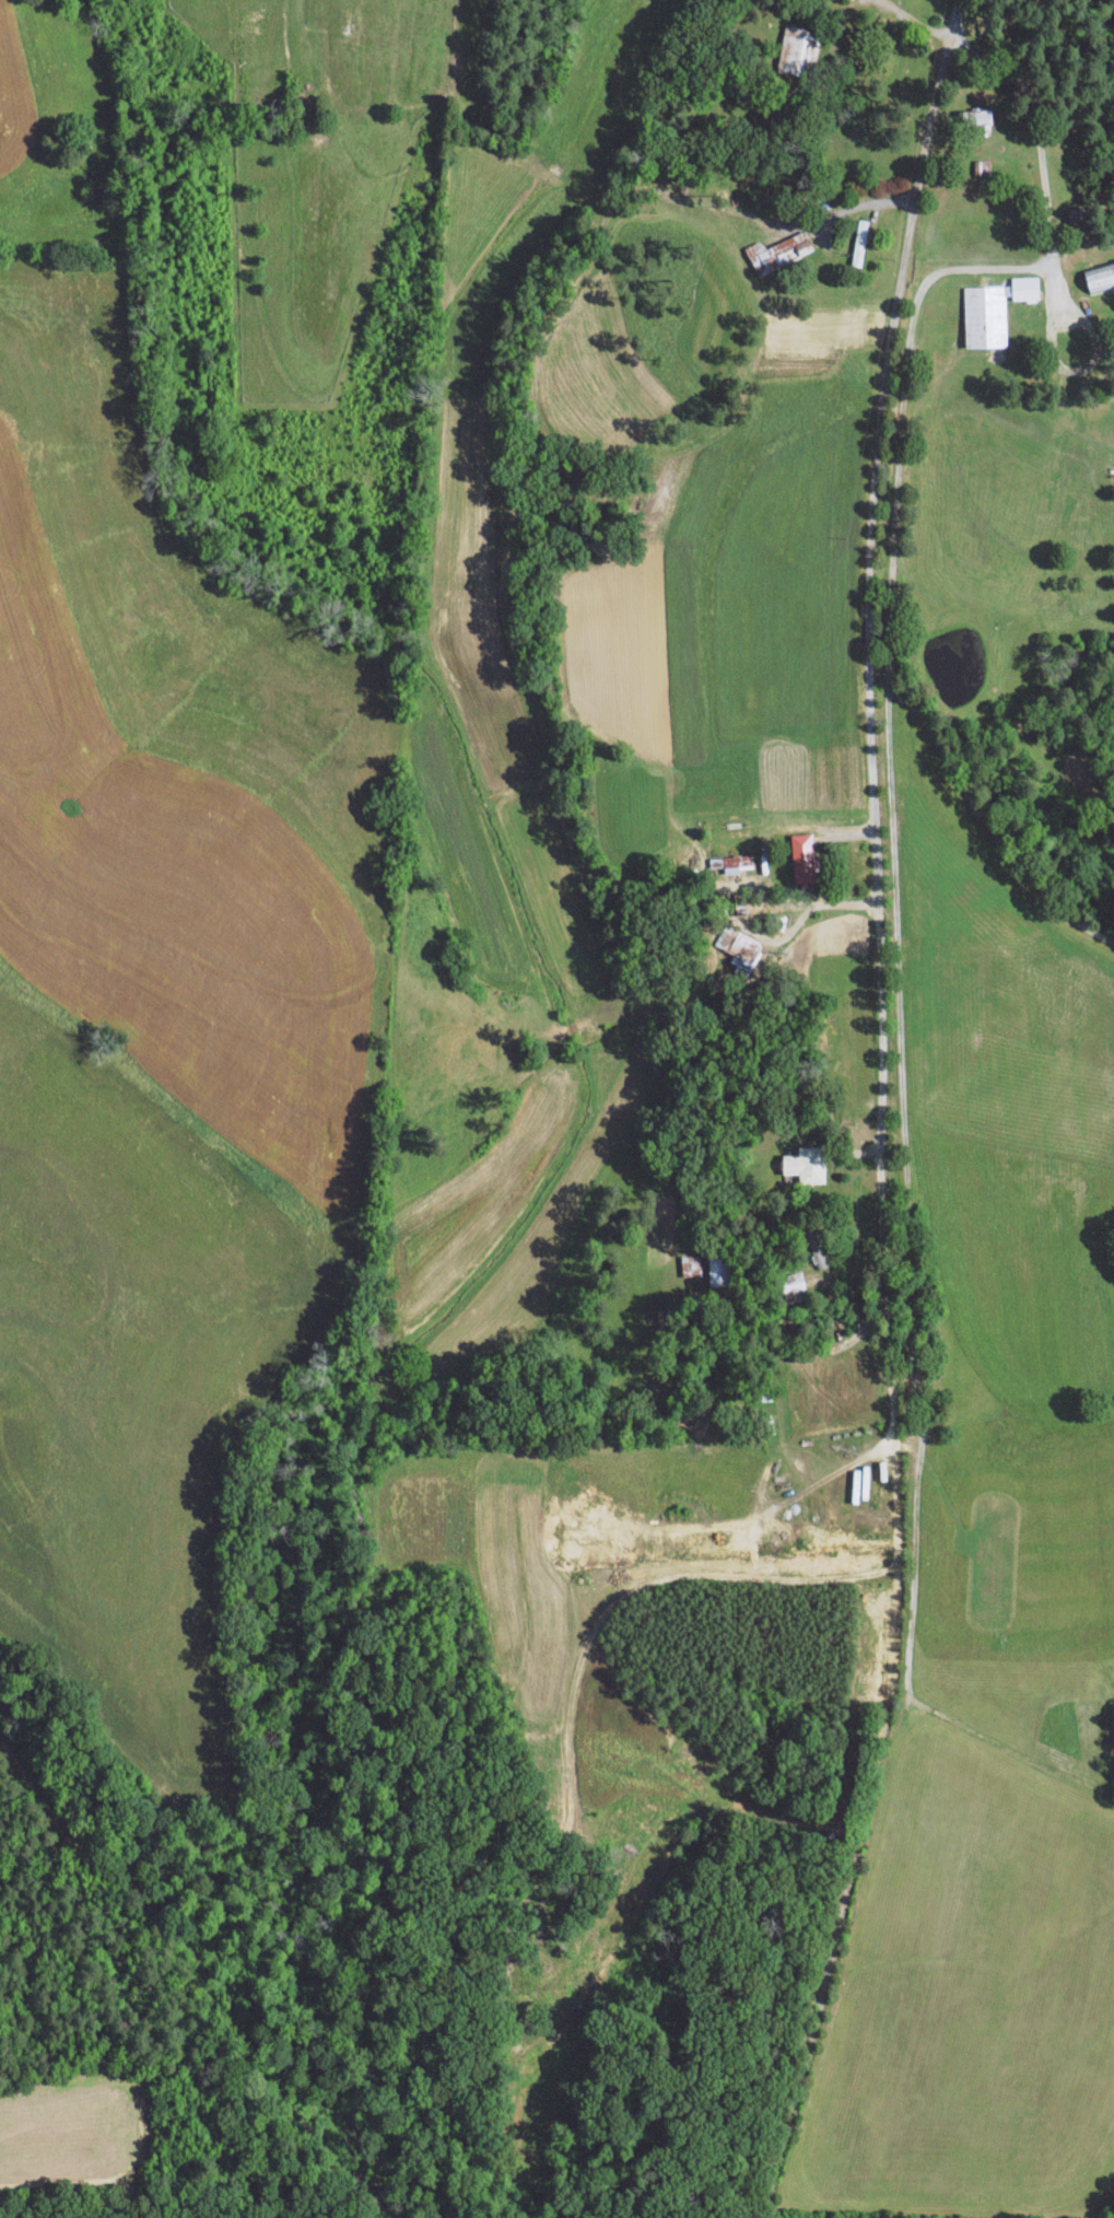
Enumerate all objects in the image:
building: (794, 48)
building: (978, 119)
road: (1041, 156)
building: (983, 166)
road: (860, 205)
building: (778, 252)
building: (1100, 277)
building: (994, 310)
road: (860, 793)
building: (804, 855)
building: (731, 862)
building: (739, 946)
building: (806, 1164)
building: (717, 1271)
building: (794, 1282)
road: (825, 1478)

